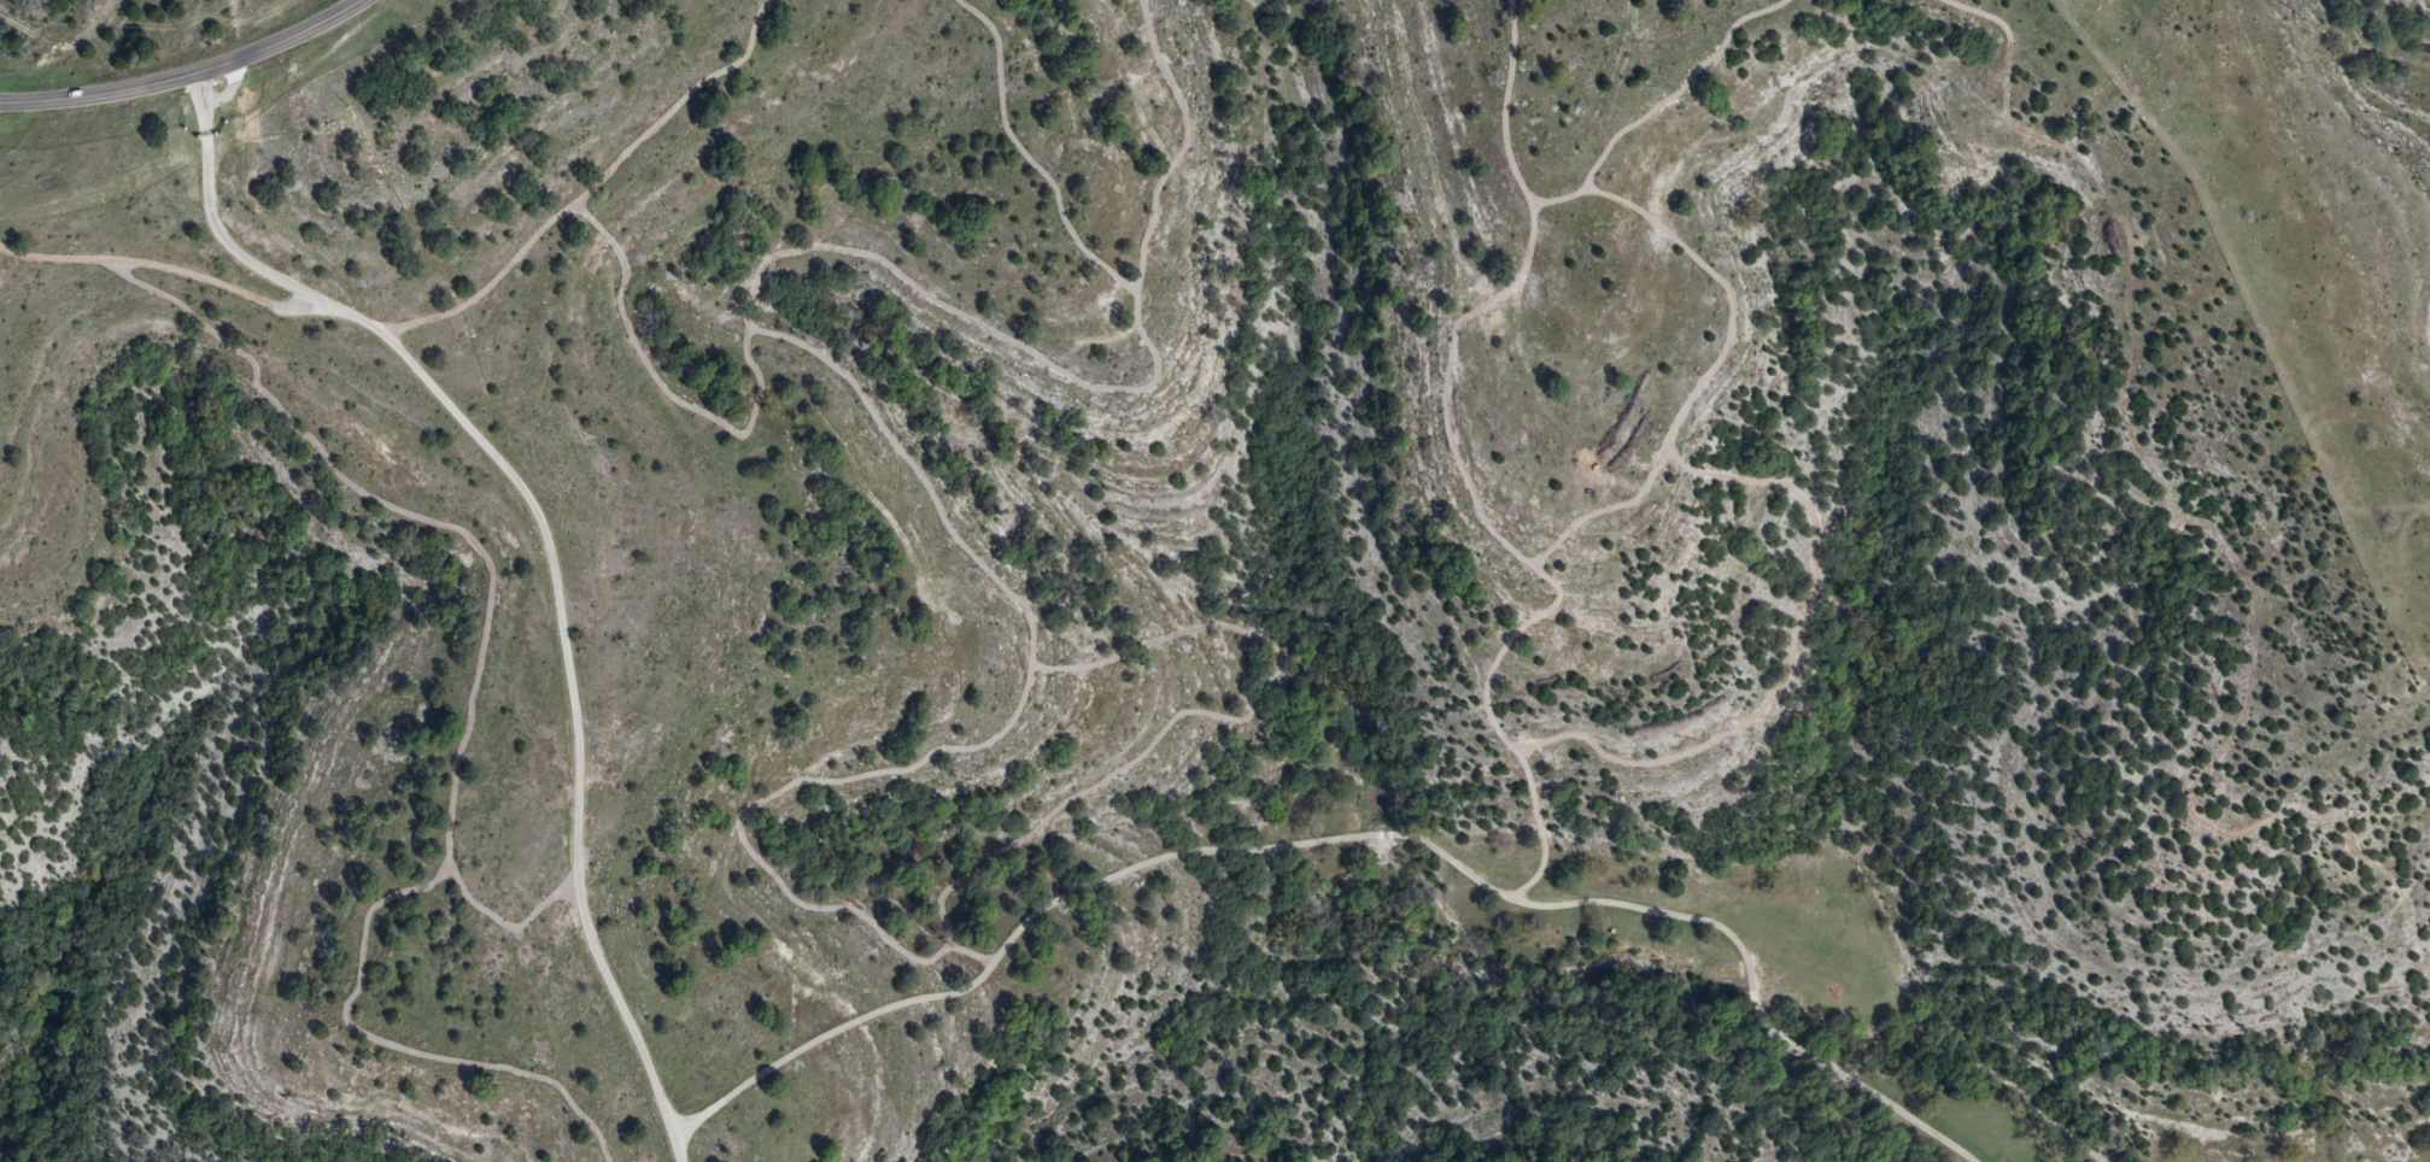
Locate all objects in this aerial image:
road: (187, 76)
road: (556, 548)

